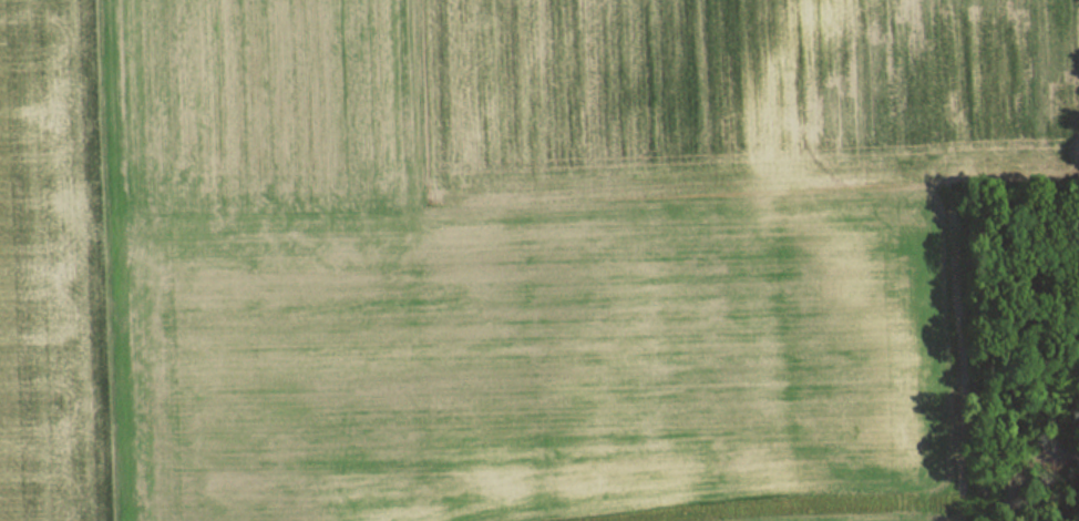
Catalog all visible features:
crop: (561, 253)
crop: (53, 266)

